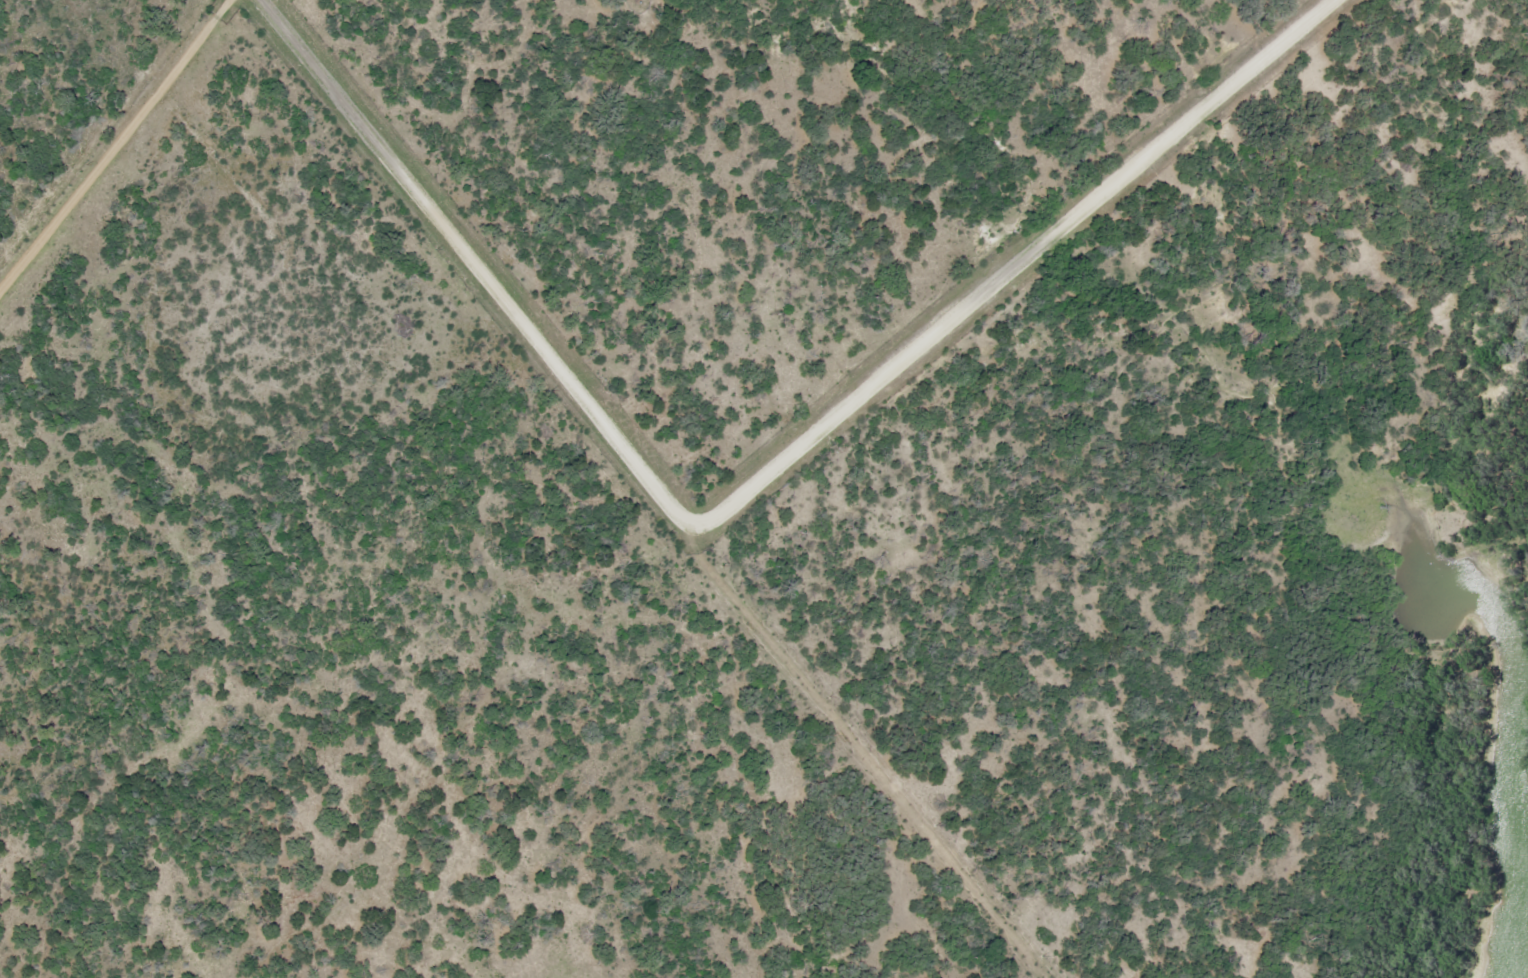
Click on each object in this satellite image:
road: (757, 485)

